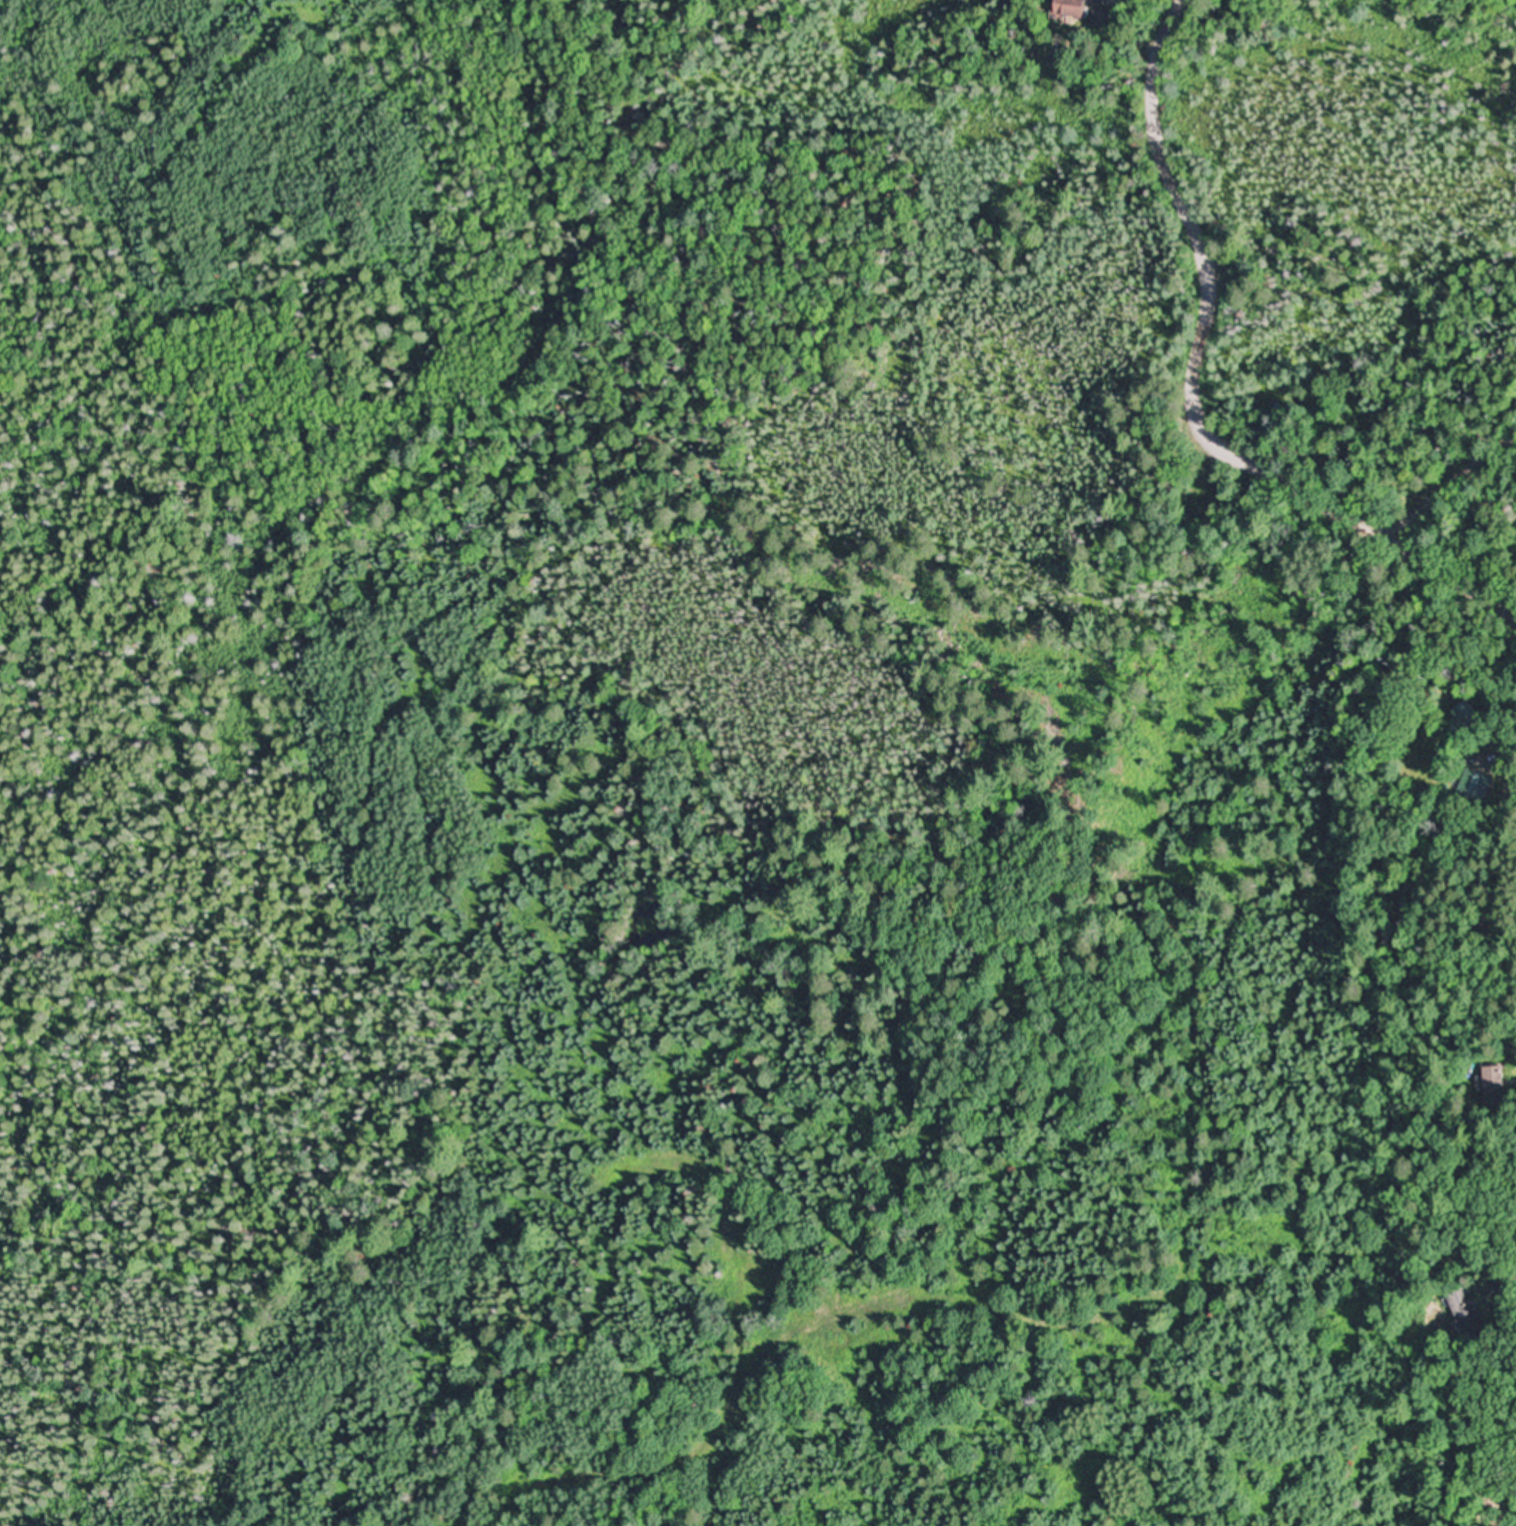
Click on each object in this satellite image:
building: (1066, 8)
building: (1096, 16)
road: (1194, 390)
road: (1463, 689)
building: (1466, 712)
building: (1483, 784)
building: (1508, 1078)
building: (1466, 1311)

